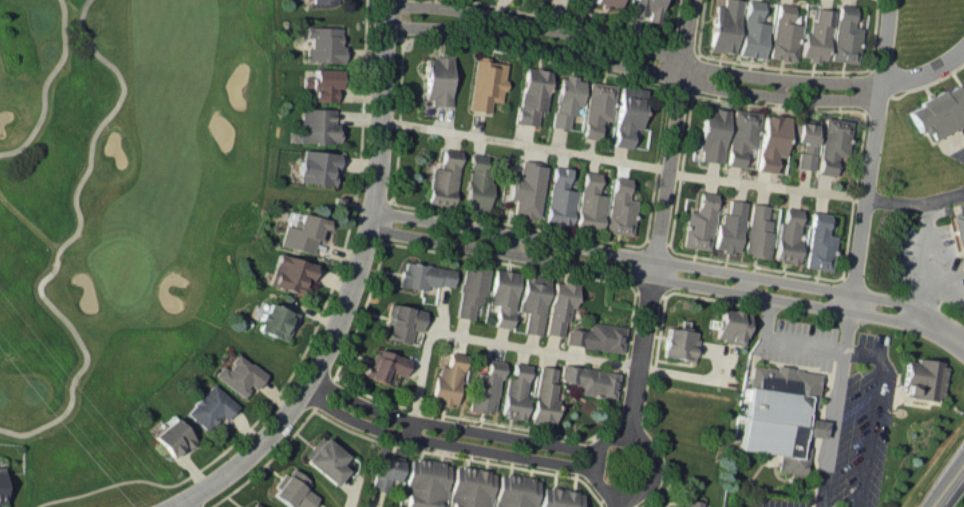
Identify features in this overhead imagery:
building: (329, 1)
building: (605, 2)
building: (645, 8)
building: (723, 26)
building: (752, 30)
road: (526, 33)
building: (783, 33)
building: (844, 35)
building: (816, 36)
building: (322, 39)
road: (631, 45)
road: (633, 67)
road: (925, 71)
building: (438, 79)
building: (963, 79)
road: (43, 83)
building: (486, 83)
building: (323, 86)
road: (778, 87)
building: (532, 94)
building: (566, 99)
building: (596, 107)
building: (937, 112)
building: (627, 114)
building: (321, 130)
building: (711, 133)
building: (740, 135)
building: (770, 140)
building: (804, 141)
building: (832, 143)
road: (870, 155)
road: (622, 160)
building: (314, 171)
building: (443, 178)
building: (477, 184)
building: (526, 189)
building: (559, 197)
building: (589, 202)
road: (914, 202)
building: (619, 207)
road: (660, 213)
building: (698, 222)
building: (729, 226)
building: (958, 228)
building: (295, 231)
building: (756, 231)
building: (786, 236)
road: (68, 238)
building: (818, 242)
road: (644, 257)
road: (925, 260)
building: (288, 272)
building: (423, 275)
road: (639, 275)
road: (945, 275)
road: (744, 283)
road: (350, 288)
building: (470, 290)
building: (502, 295)
building: (532, 302)
building: (559, 306)
building: (276, 320)
building: (402, 322)
building: (731, 326)
road: (939, 328)
building: (596, 336)
road: (481, 339)
building: (678, 343)
road: (802, 345)
road: (860, 353)
building: (385, 365)
building: (238, 372)
building: (922, 378)
building: (447, 380)
building: (590, 380)
building: (485, 387)
building: (515, 391)
building: (544, 394)
building: (209, 406)
building: (780, 414)
road: (449, 426)
road: (870, 427)
road: (831, 429)
building: (171, 436)
road: (443, 442)
building: (325, 458)
building: (385, 471)
building: (425, 482)
road: (947, 483)
building: (470, 487)
building: (1, 488)
building: (293, 489)
building: (515, 491)
building: (559, 497)
building: (688, 503)
road: (858, 503)
road: (180, 504)
building: (253, 504)
road: (617, 505)
road: (616, 506)

